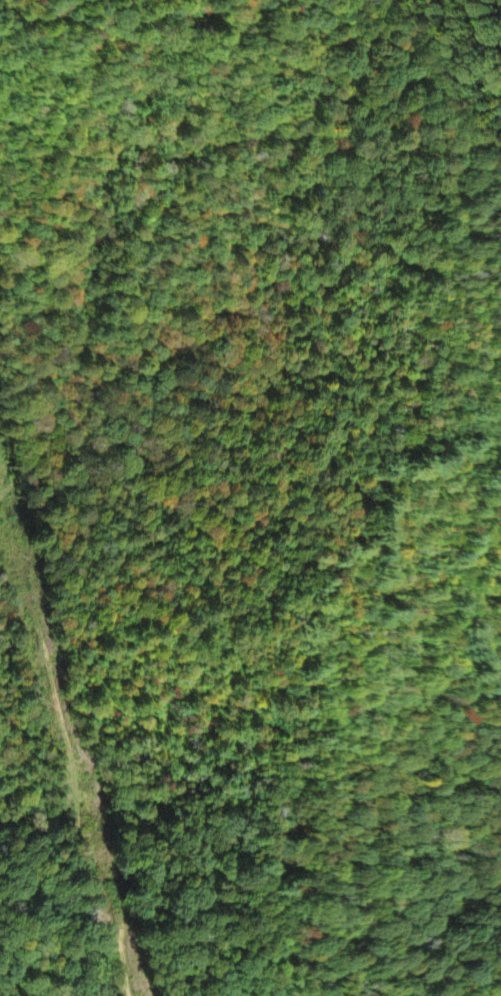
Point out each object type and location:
road: (37, 17)
road: (208, 26)

